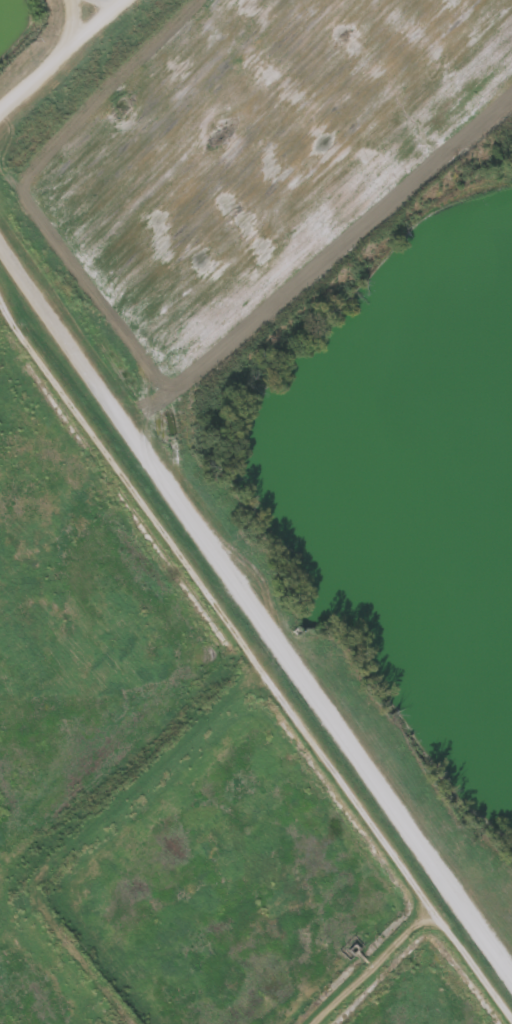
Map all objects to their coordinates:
road: (60, 52)
wastewater plant: (256, 512)
road: (248, 595)
road: (508, 961)

